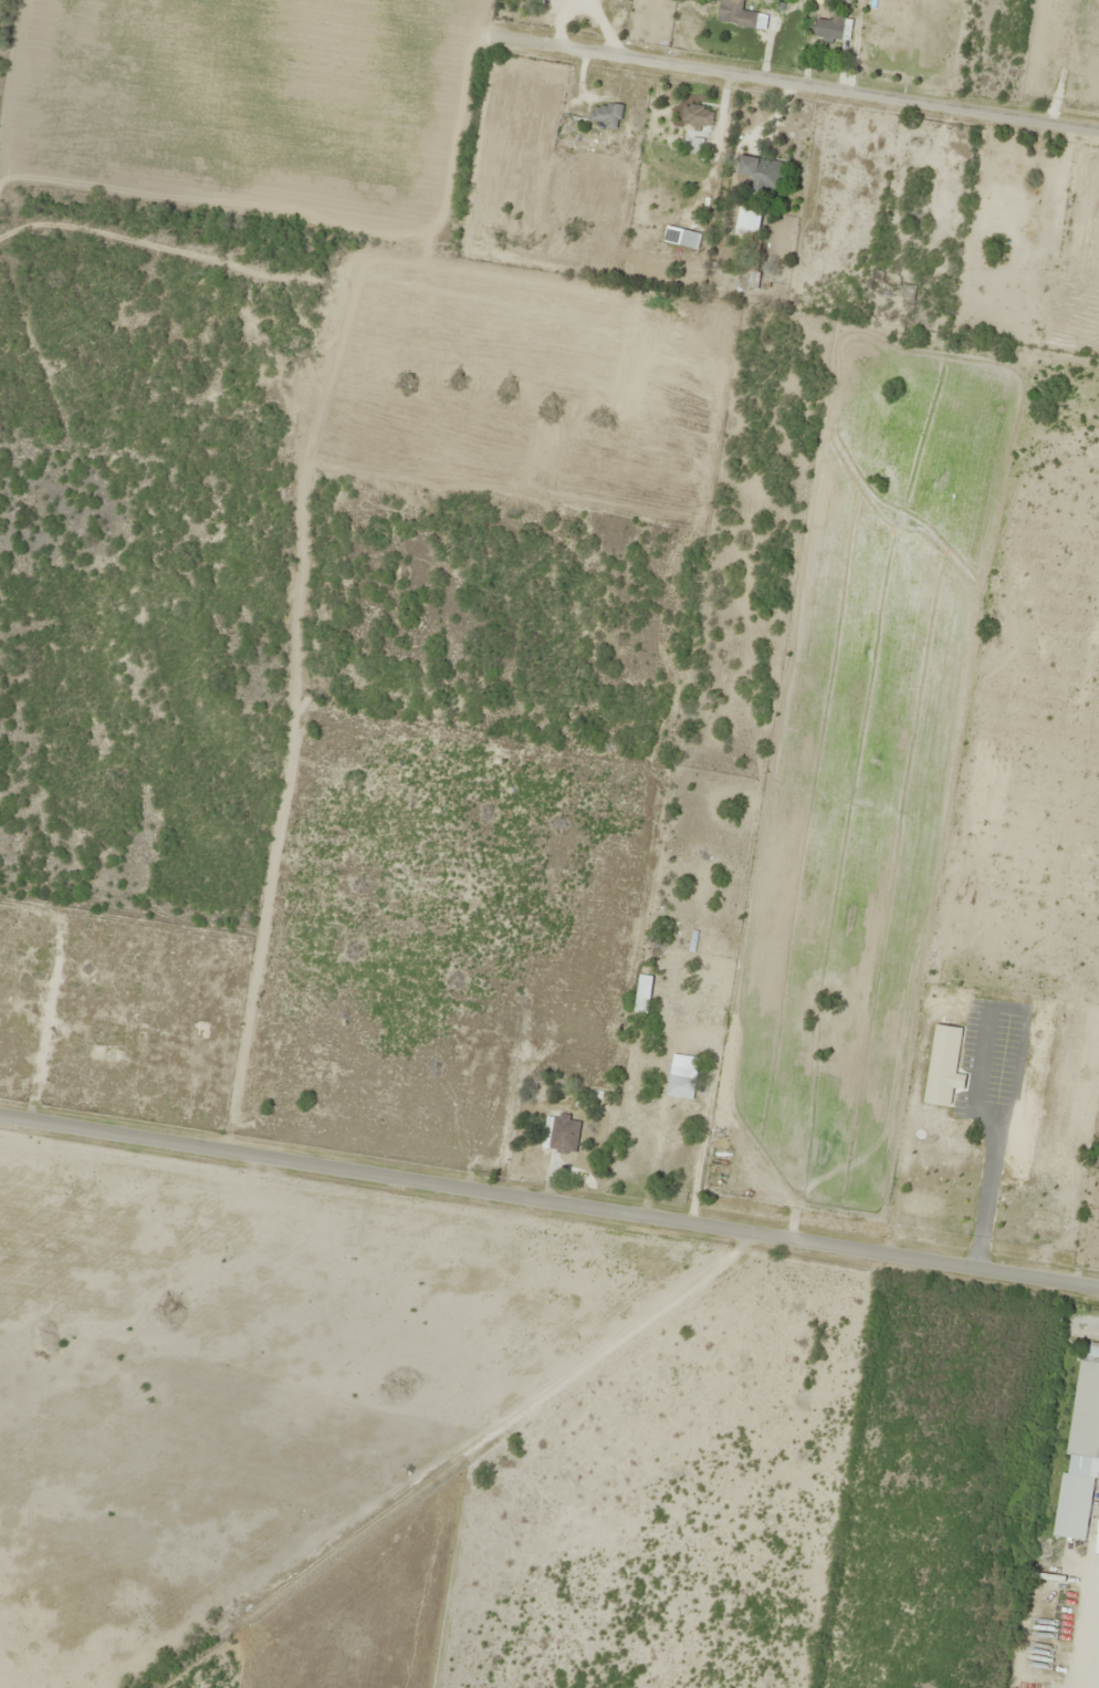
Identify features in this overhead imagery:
building: (735, 14)
building: (829, 25)
road: (794, 83)
building: (606, 114)
building: (697, 115)
building: (762, 173)
building: (746, 225)
building: (681, 237)
building: (682, 1087)
building: (564, 1134)
road: (549, 1206)
building: (1091, 1350)
building: (1085, 1413)
building: (1074, 1507)
building: (1038, 1616)

